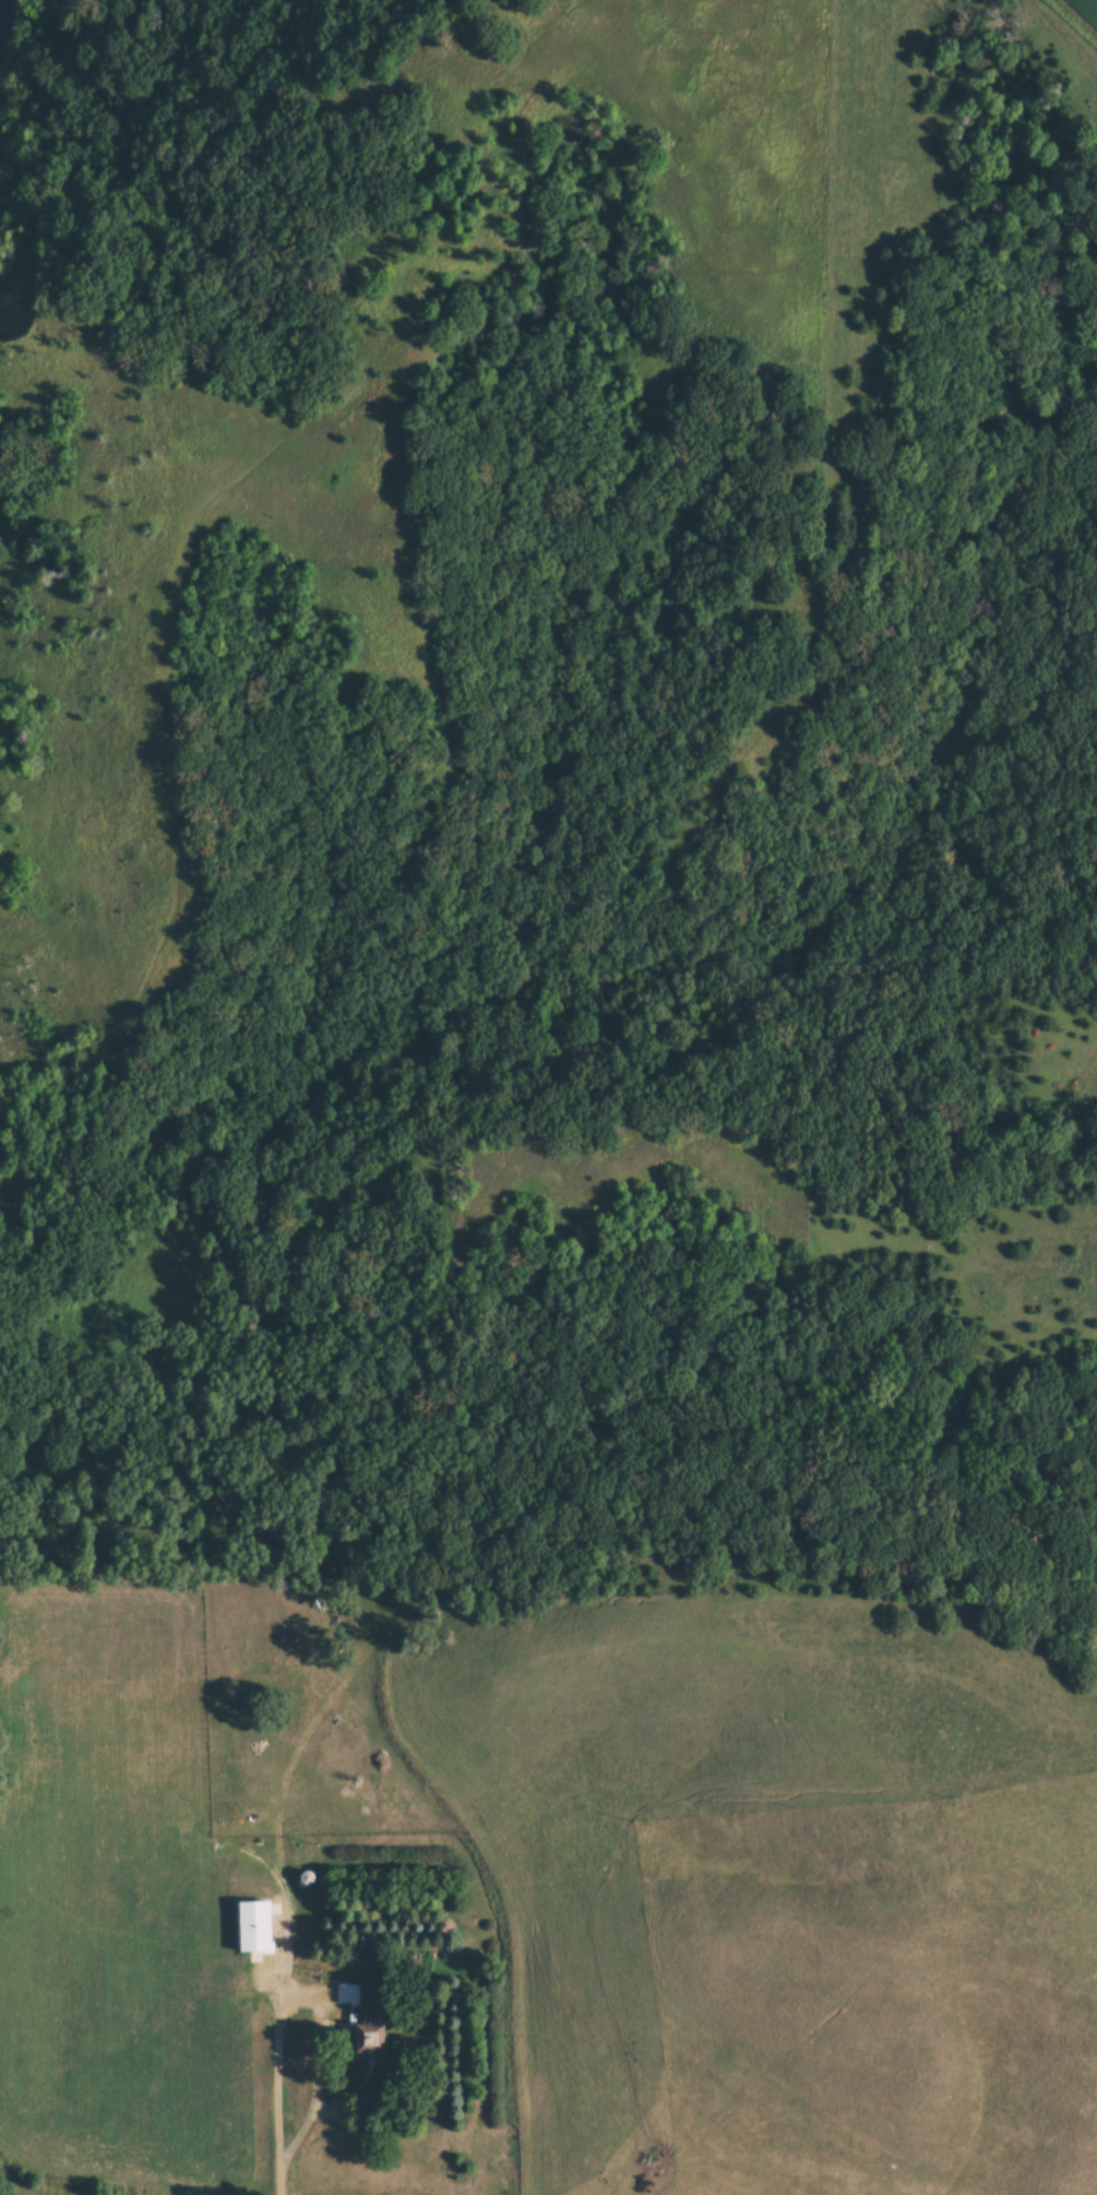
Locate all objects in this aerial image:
building: (250, 1844)
building: (251, 1929)
building: (372, 2021)
road: (9, 2187)

